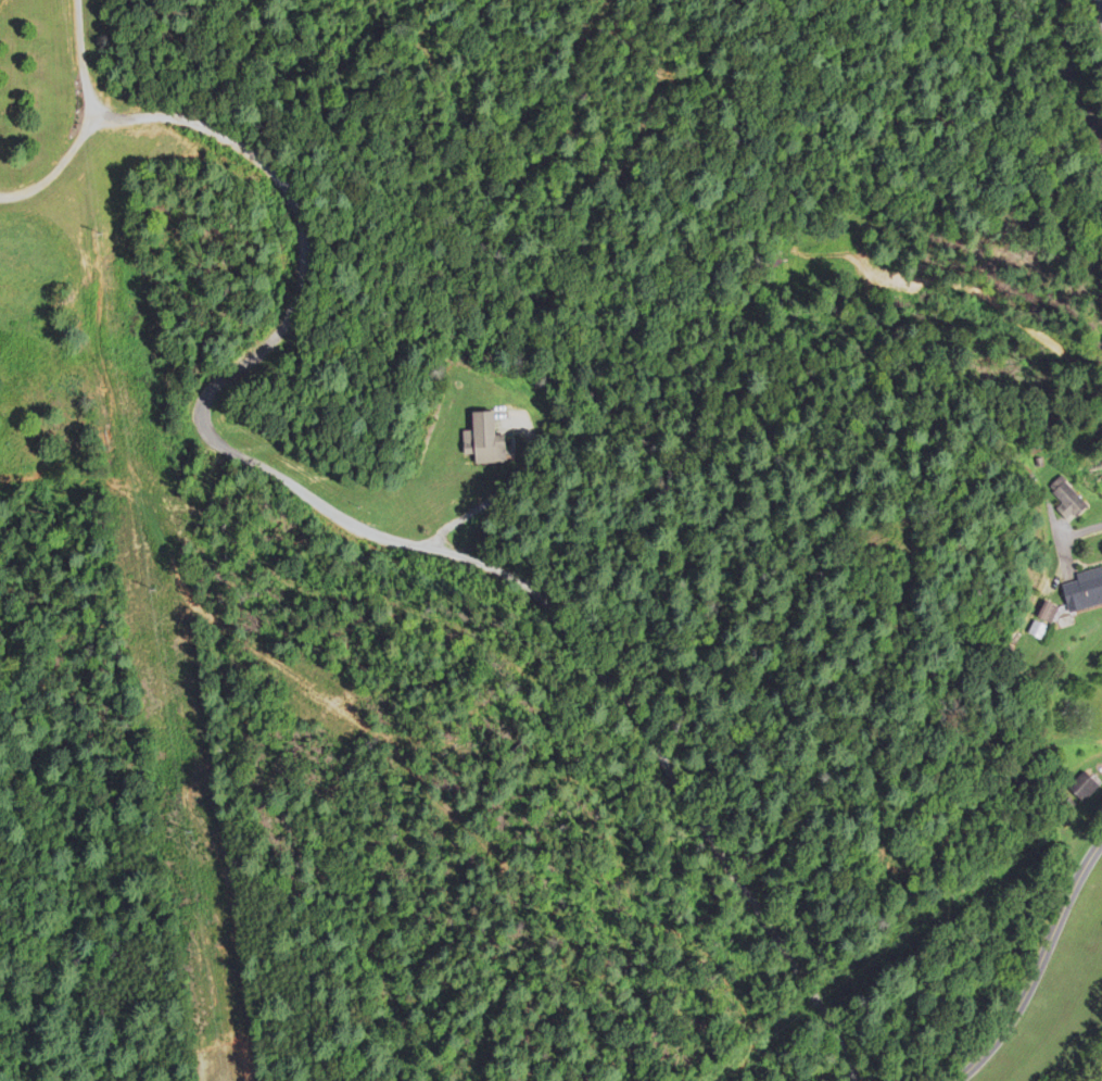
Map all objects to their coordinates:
road: (79, 61)
building: (483, 441)
building: (1068, 501)
road: (338, 516)
road: (1067, 539)
building: (1084, 591)
building: (1049, 612)
building: (1040, 628)
building: (1087, 785)
road: (1038, 967)

